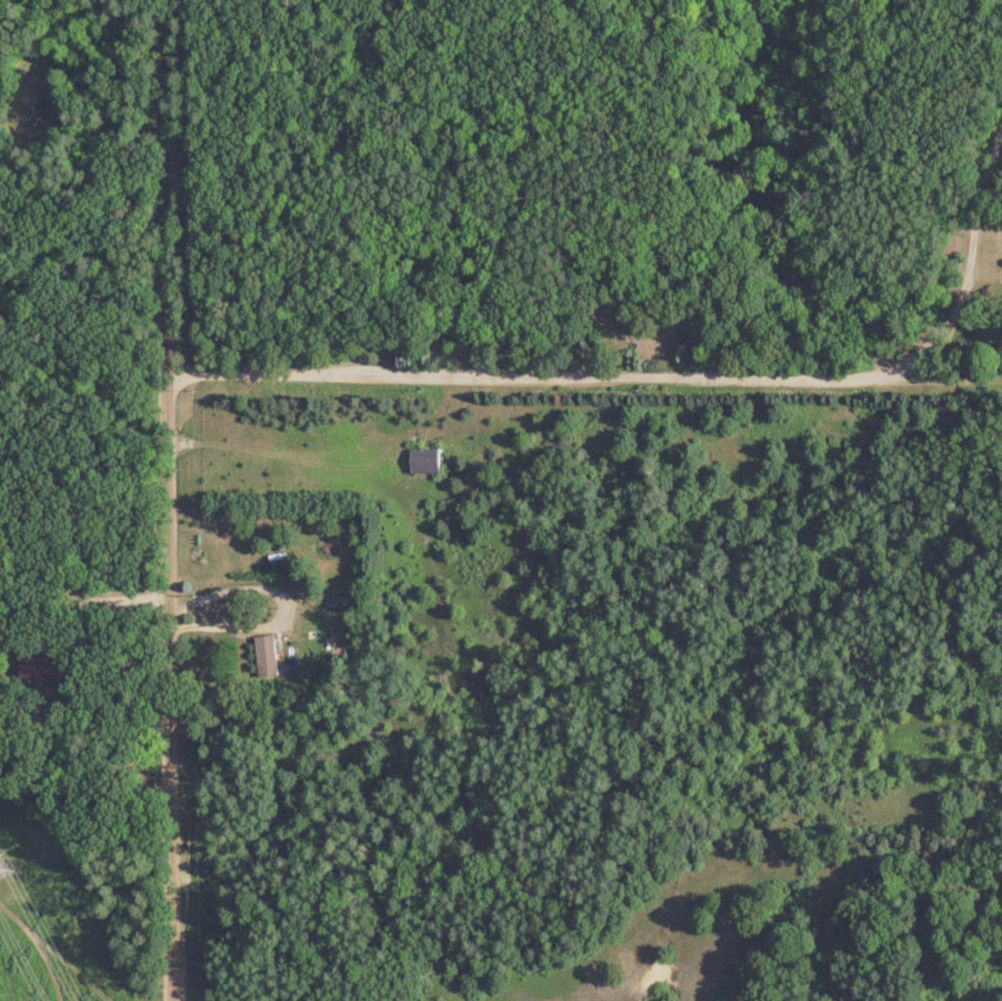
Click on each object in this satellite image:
road: (85, 213)
road: (967, 269)
road: (524, 378)
road: (412, 477)
road: (166, 500)
road: (106, 594)
building: (317, 596)
road: (284, 610)
building: (264, 658)

